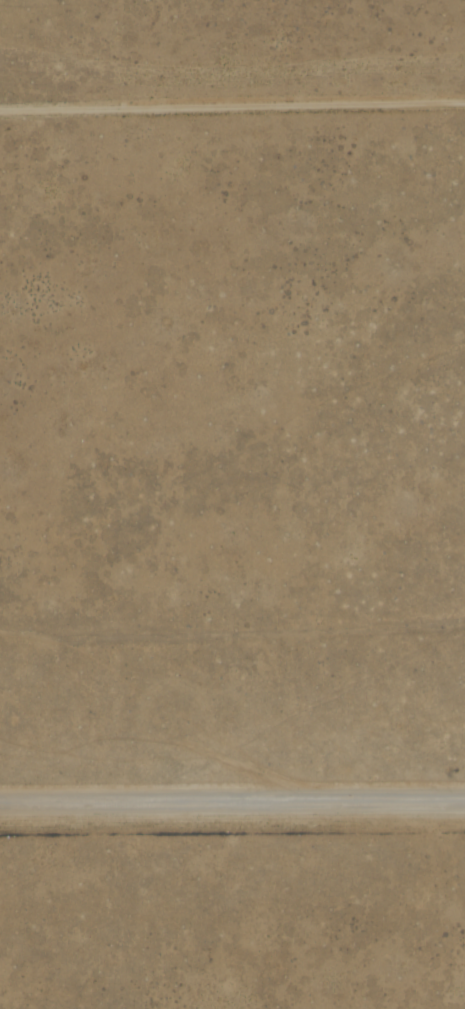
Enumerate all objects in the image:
road: (232, 809)

